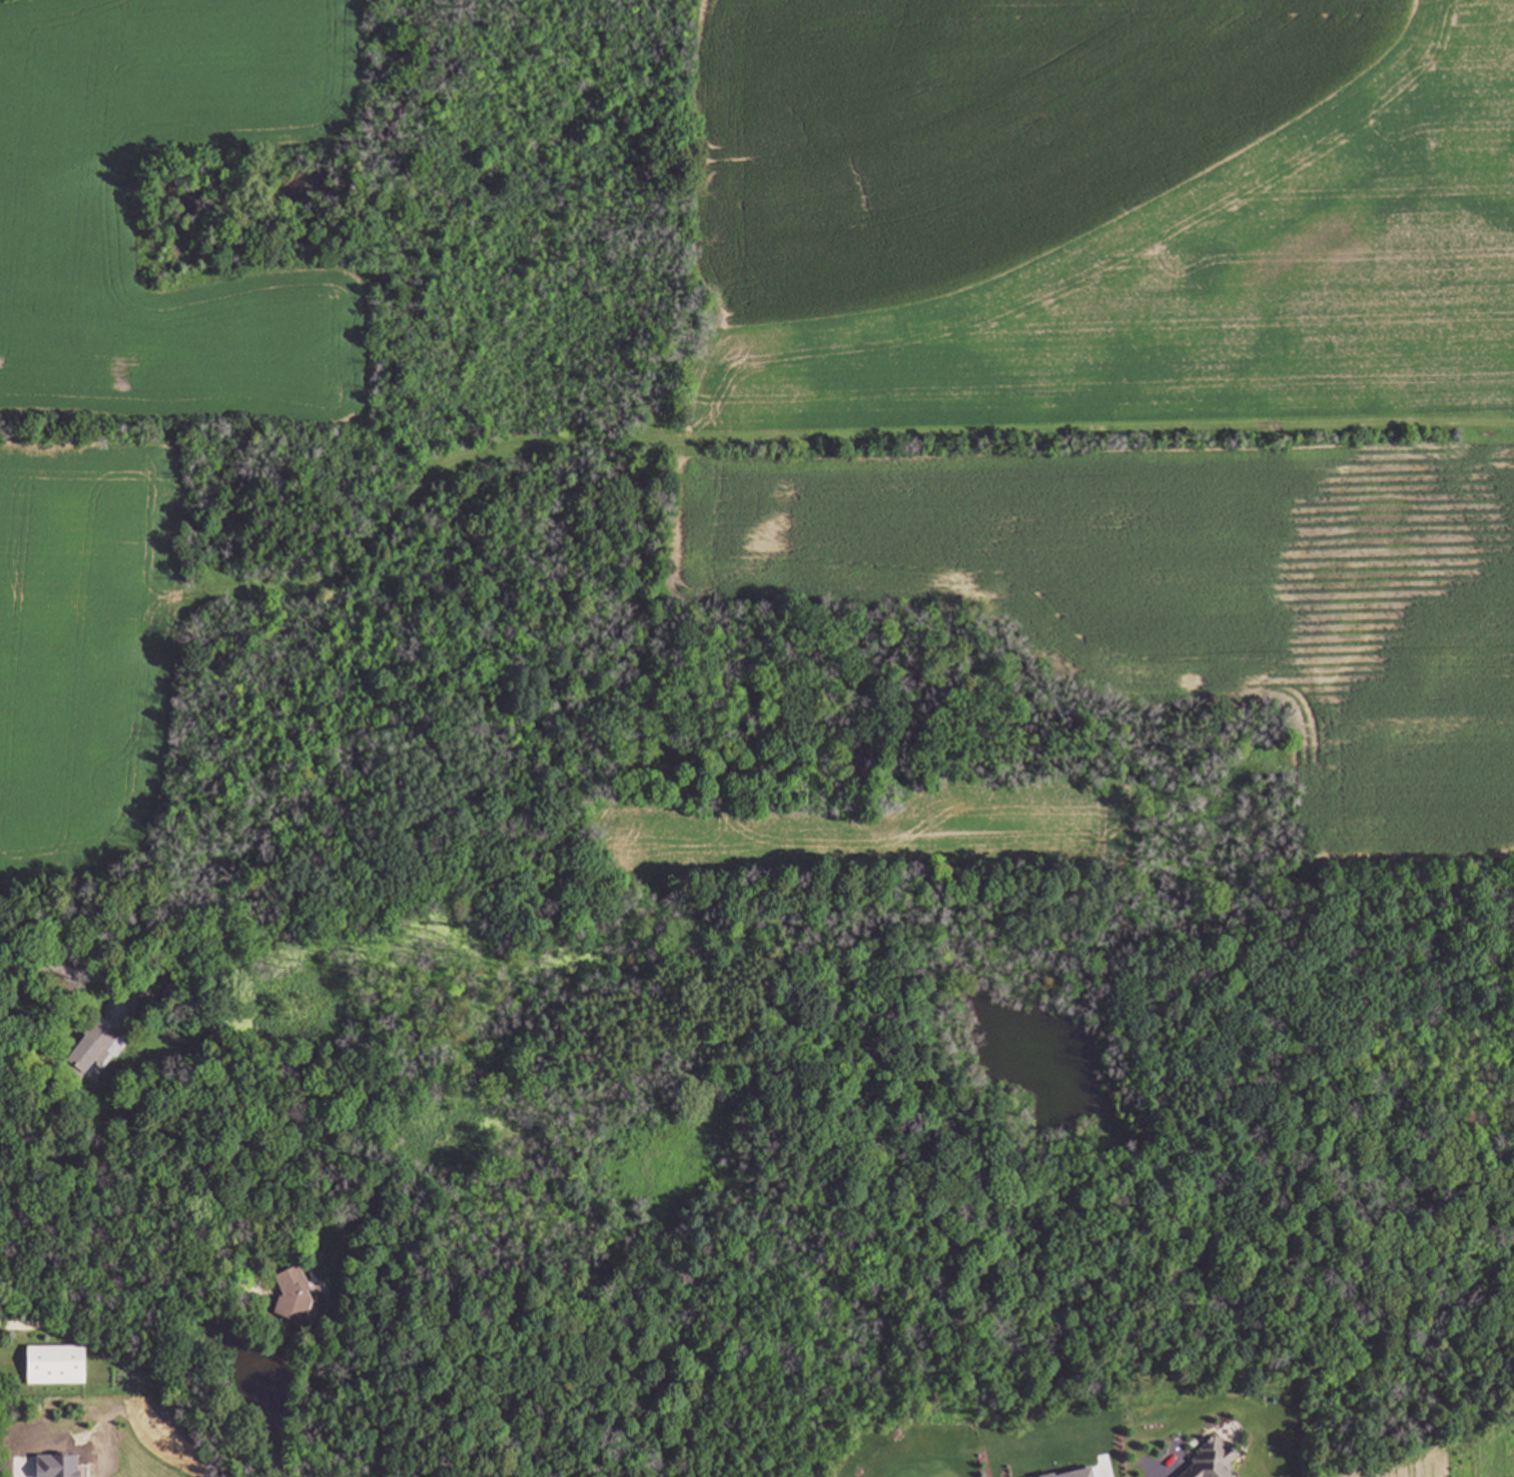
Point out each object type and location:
road: (66, 1001)
building: (91, 1052)
park: (841, 1157)
road: (117, 1272)
building: (293, 1296)
building: (56, 1367)
building: (1213, 1461)
road: (27, 1476)

